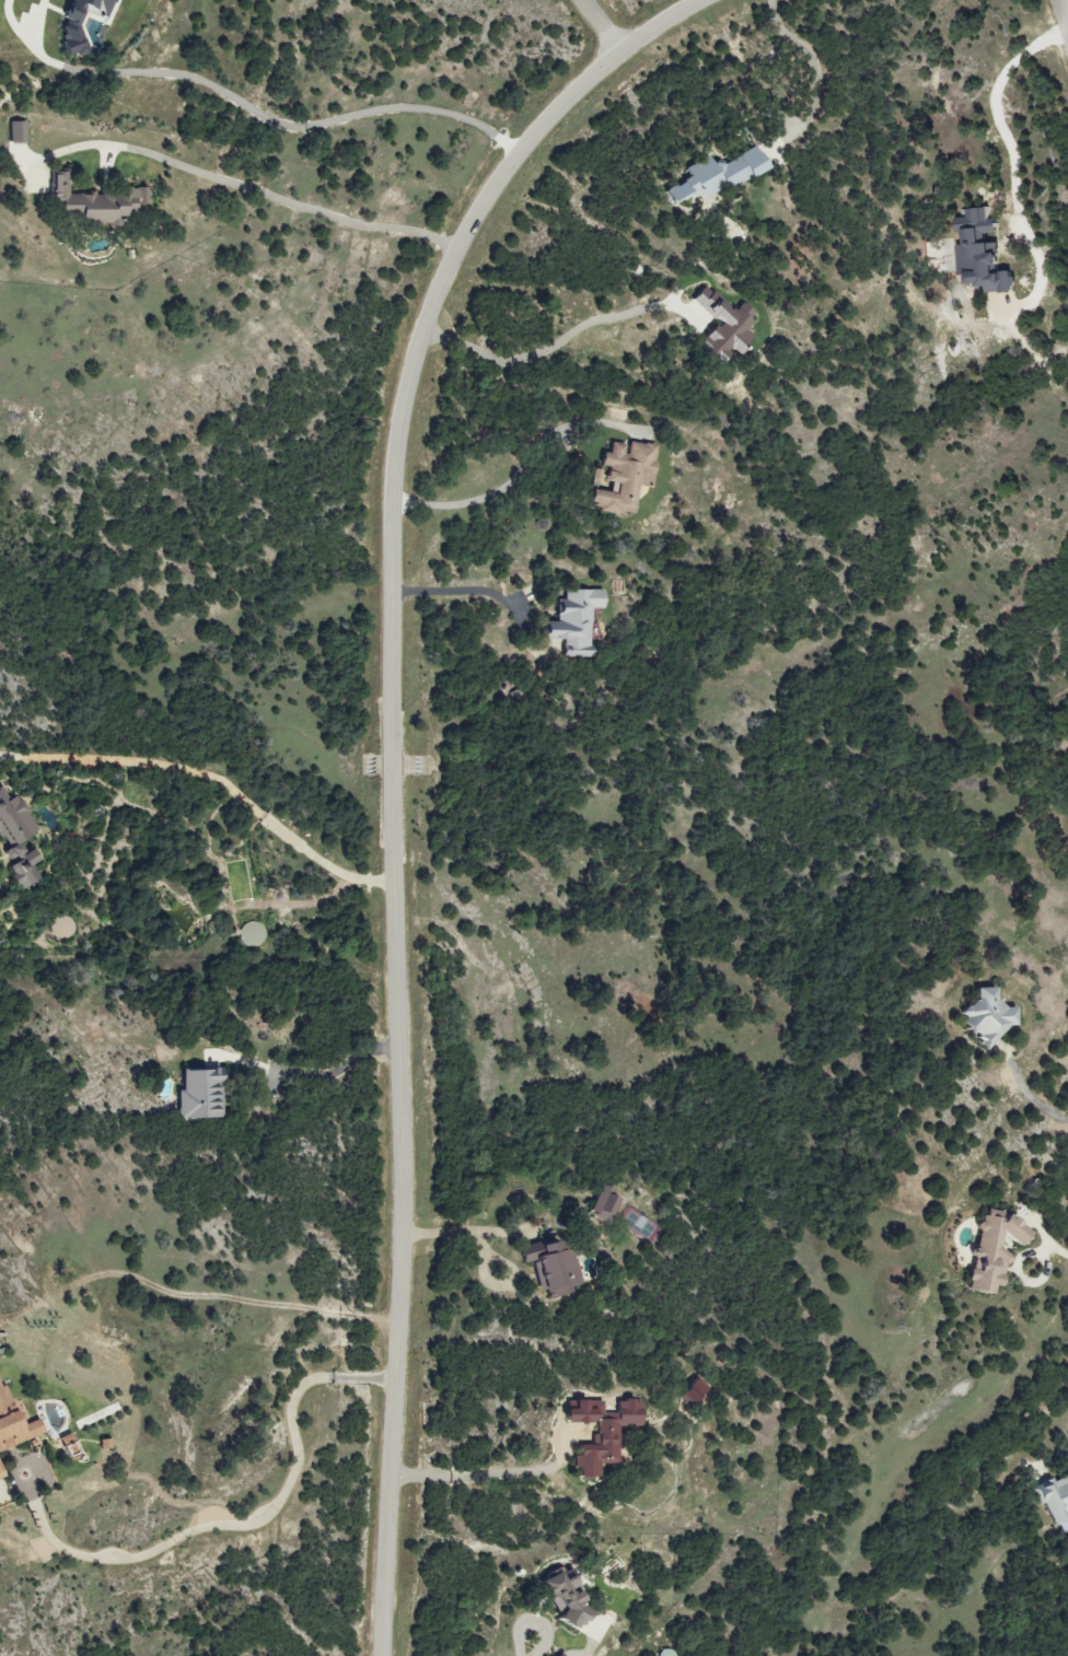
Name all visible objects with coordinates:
road: (1064, 14)
road: (599, 26)
building: (69, 27)
road: (817, 66)
road: (254, 103)
building: (15, 131)
road: (1001, 133)
building: (715, 175)
road: (265, 196)
building: (90, 201)
building: (988, 225)
building: (979, 264)
building: (720, 325)
road: (548, 347)
road: (519, 474)
building: (622, 476)
road: (461, 593)
building: (572, 621)
road: (388, 768)
road: (211, 772)
building: (11, 819)
building: (21, 870)
building: (985, 1016)
road: (306, 1059)
road: (1032, 1094)
building: (197, 1095)
building: (604, 1203)
road: (1050, 1246)
building: (988, 1250)
building: (547, 1267)
building: (690, 1391)
building: (13, 1424)
building: (600, 1432)
building: (102, 1444)
road: (1067, 1449)
road: (471, 1472)
building: (1054, 1500)
road: (239, 1520)
building: (559, 1596)
road: (529, 1646)
building: (560, 1655)

